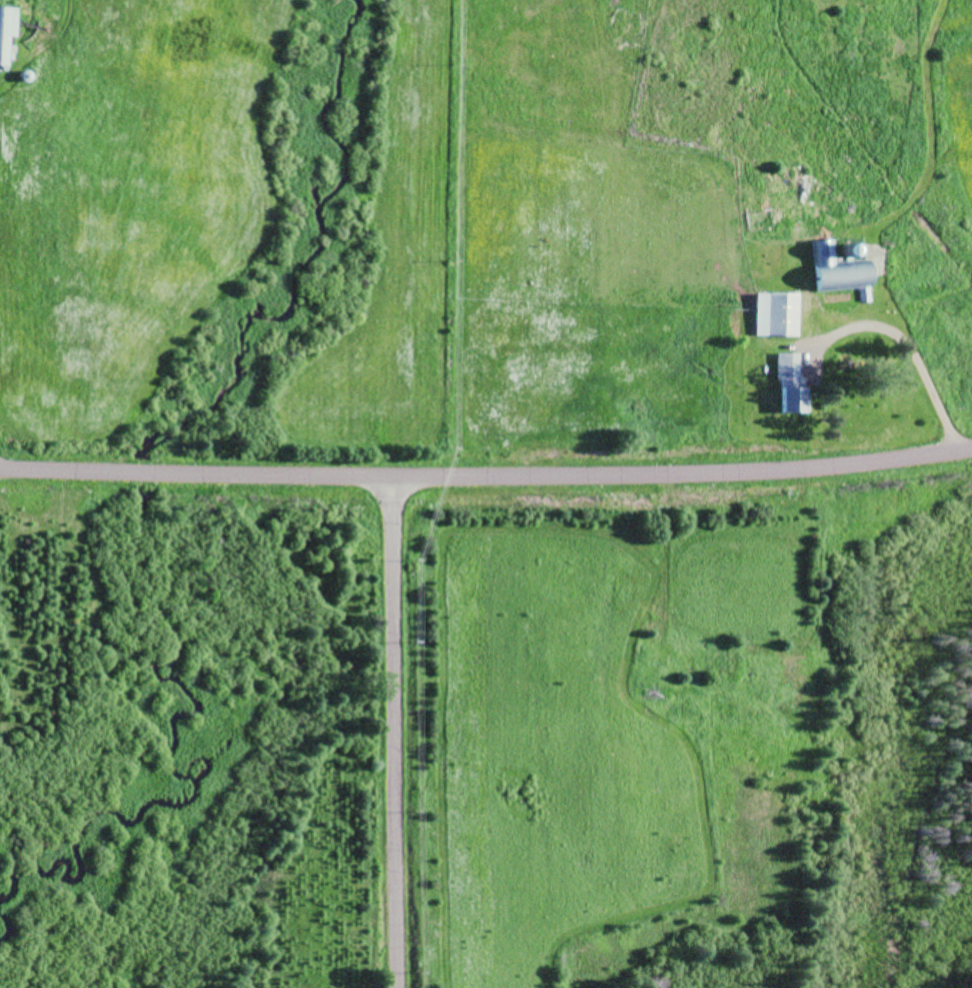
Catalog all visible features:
building: (7, 29)
building: (836, 268)
building: (777, 313)
building: (792, 384)
road: (486, 485)
road: (373, 737)
road: (392, 978)

